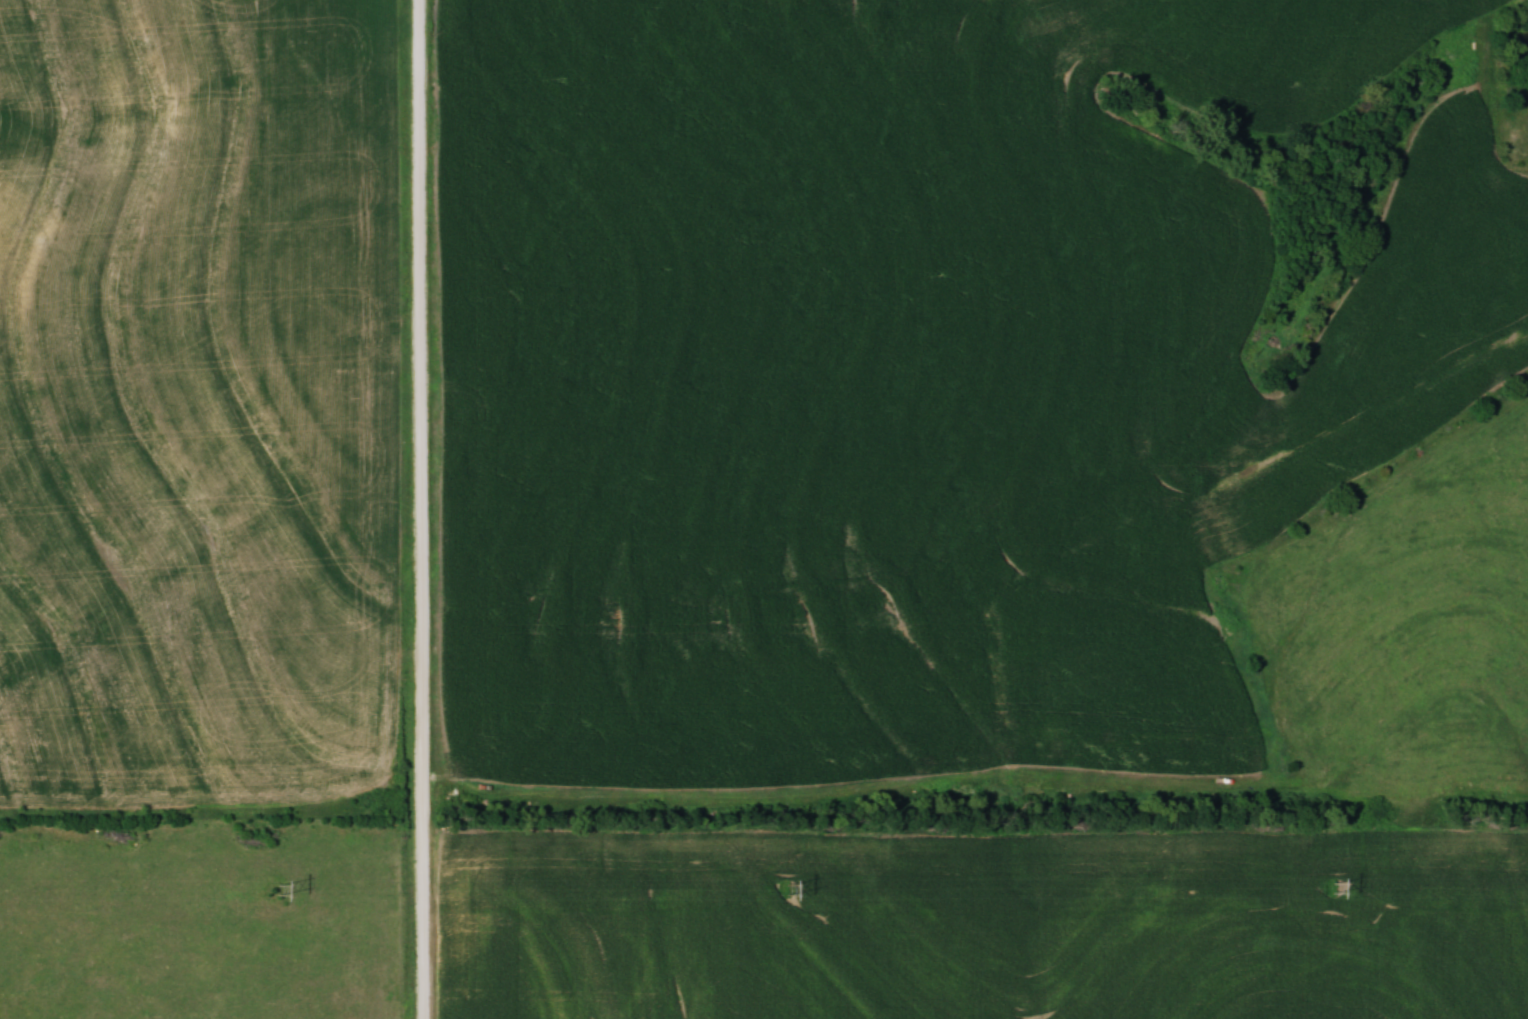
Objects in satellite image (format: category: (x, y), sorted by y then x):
road: (424, 509)
power tower: (1333, 888)
power tower: (275, 889)
power tower: (786, 889)

